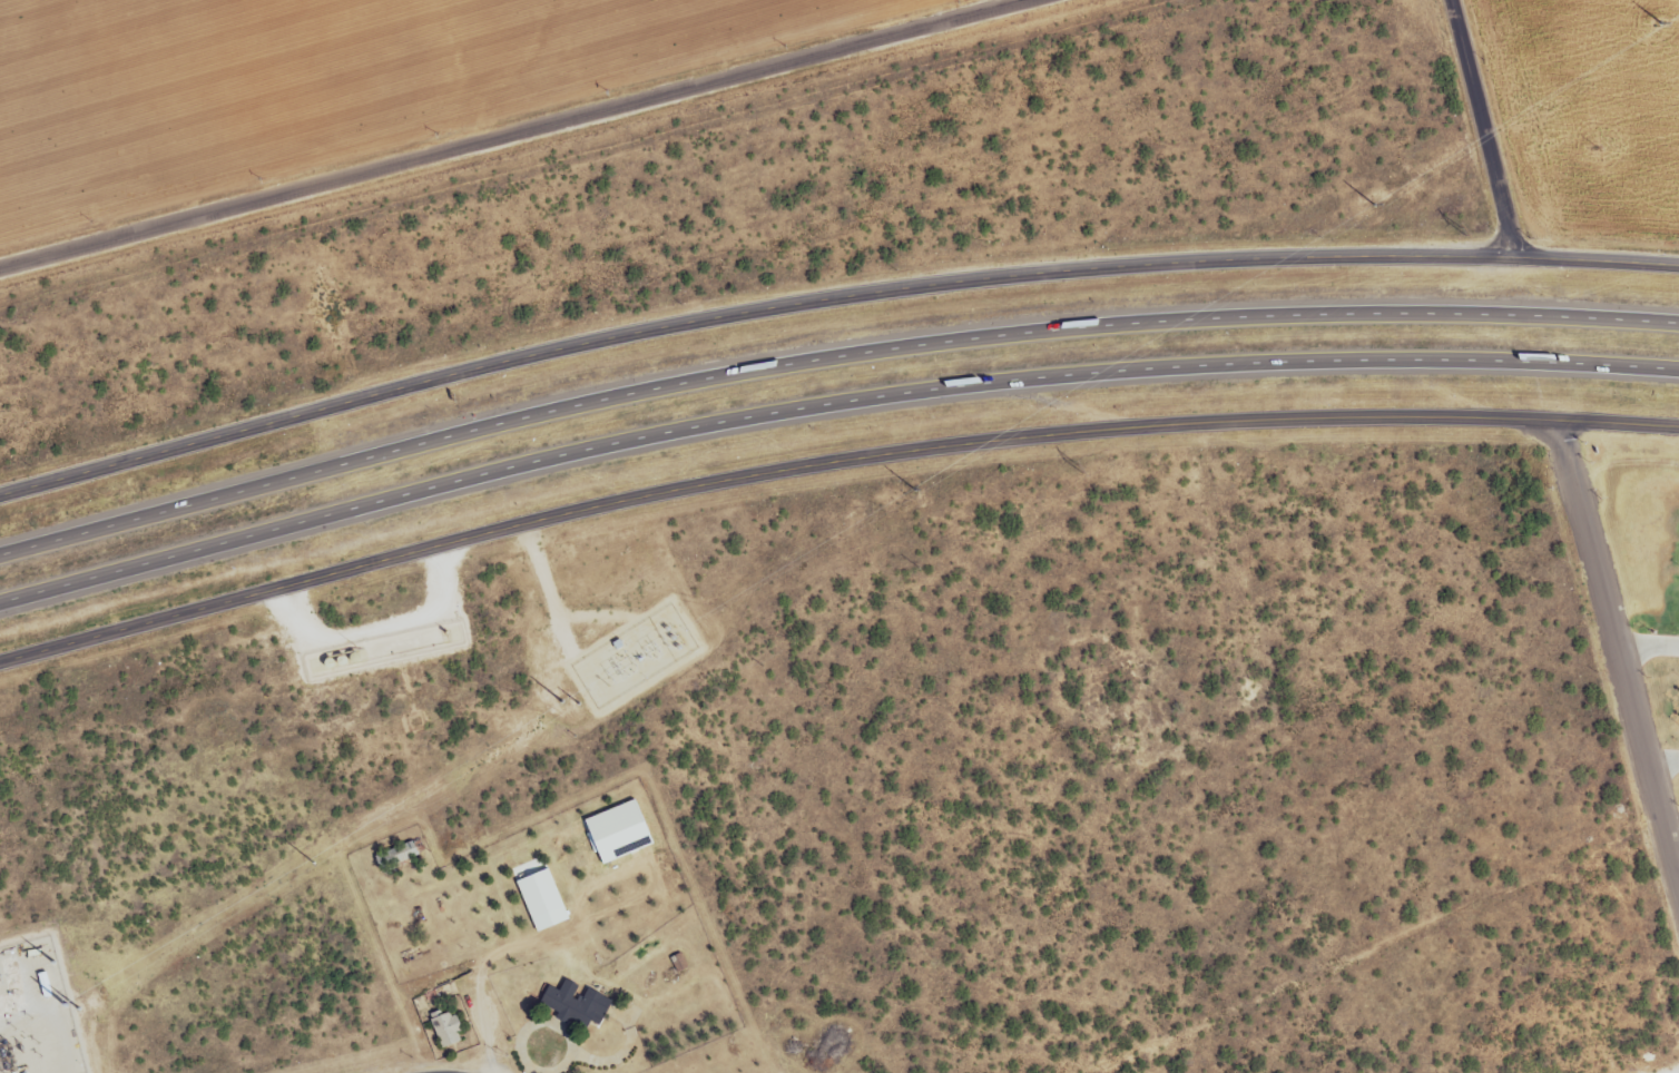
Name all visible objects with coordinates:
power tower: (1661, 23)
road: (1475, 131)
road: (516, 136)
power tower: (1597, 145)
power tower: (1374, 205)
power tower: (1460, 228)
road: (828, 297)
road: (828, 357)
road: (828, 403)
road: (827, 457)
power tower: (1074, 464)
power tower: (913, 490)
power tower: (917, 564)
road: (1619, 642)
road: (1649, 647)
power substation: (634, 654)
power tower: (762, 665)
power tower: (603, 678)
power tower: (561, 701)
power tower: (578, 703)
road: (1666, 765)
building: (402, 855)
power tower: (313, 863)
building: (542, 899)
power tower: (52, 961)
power tower: (63, 1005)
building: (577, 1005)
power tower: (78, 1008)
power substation: (36, 1012)
road: (561, 1023)
building: (446, 1028)
road: (527, 1070)

